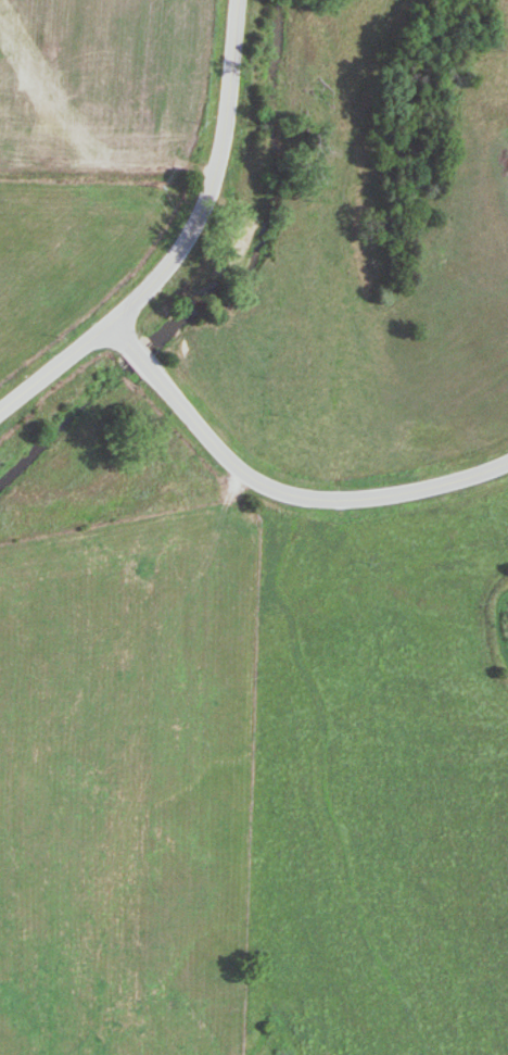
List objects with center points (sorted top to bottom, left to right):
road: (213, 176)
road: (56, 367)
road: (276, 490)

